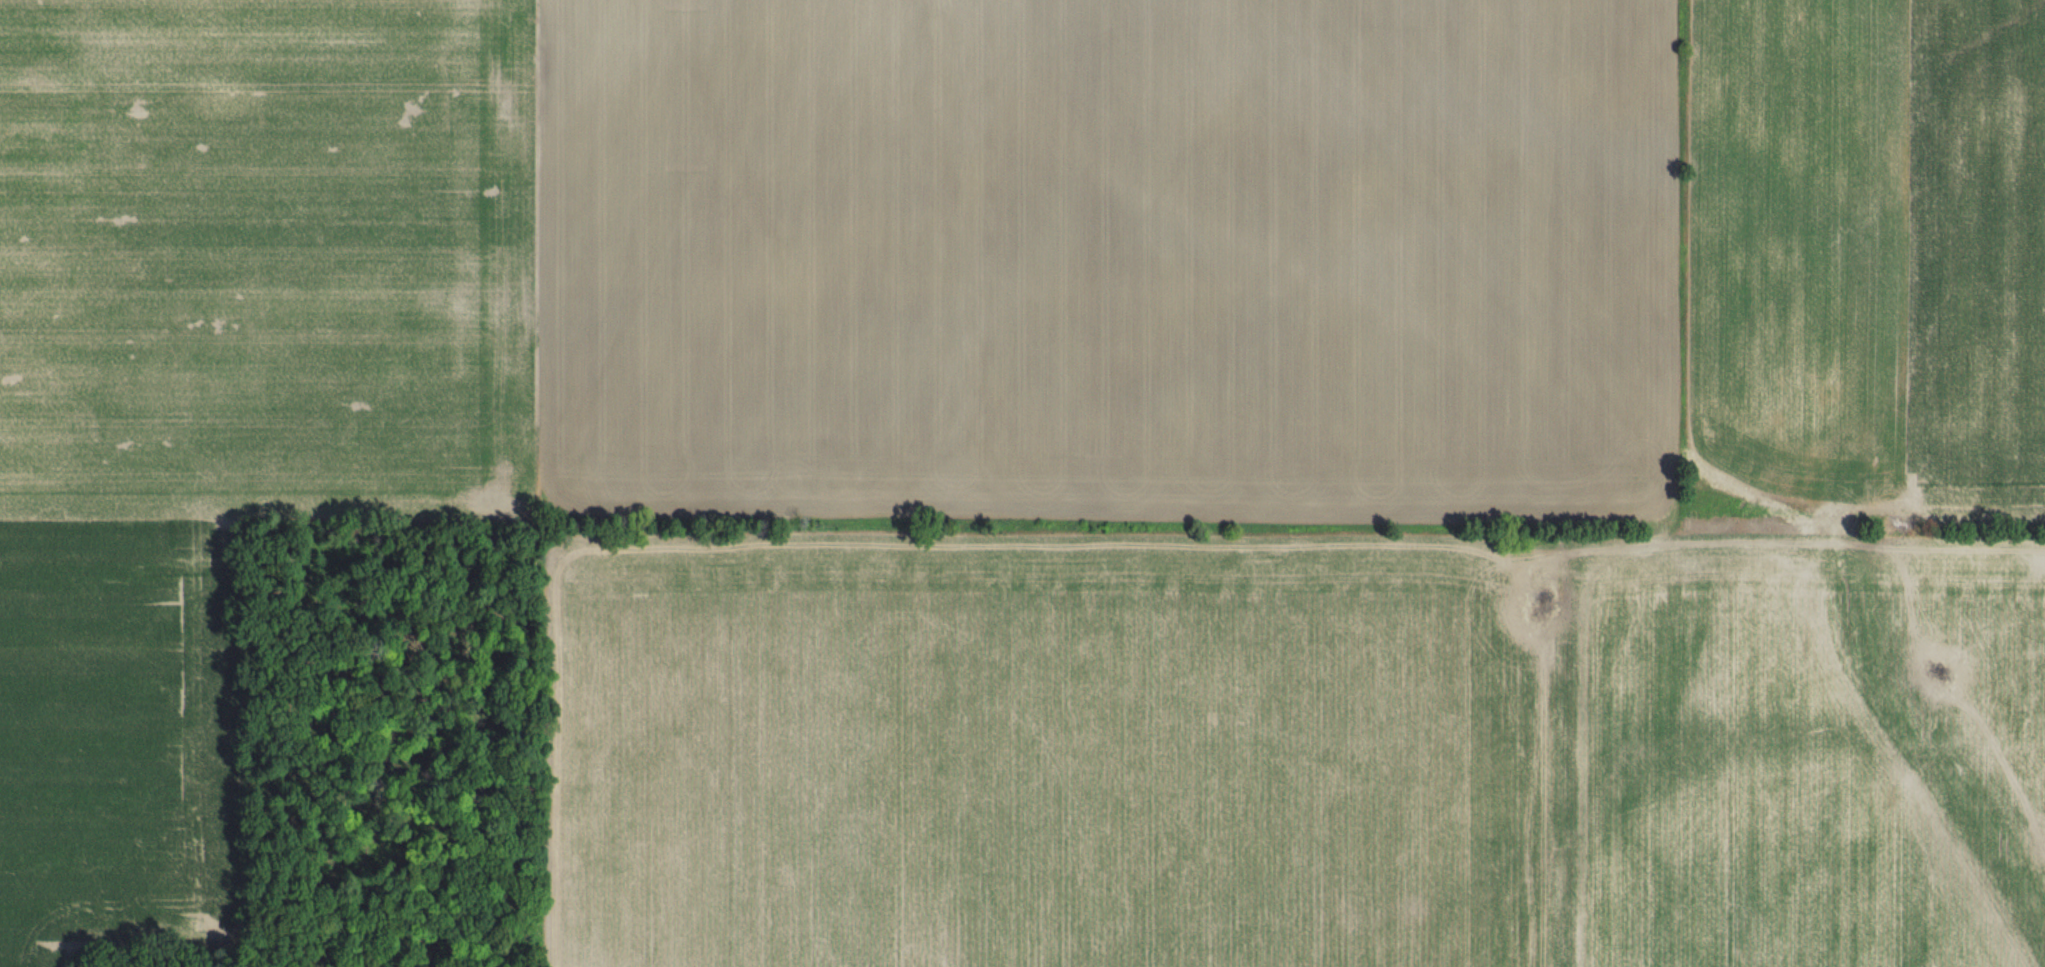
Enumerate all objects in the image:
crop: (1976, 664)

